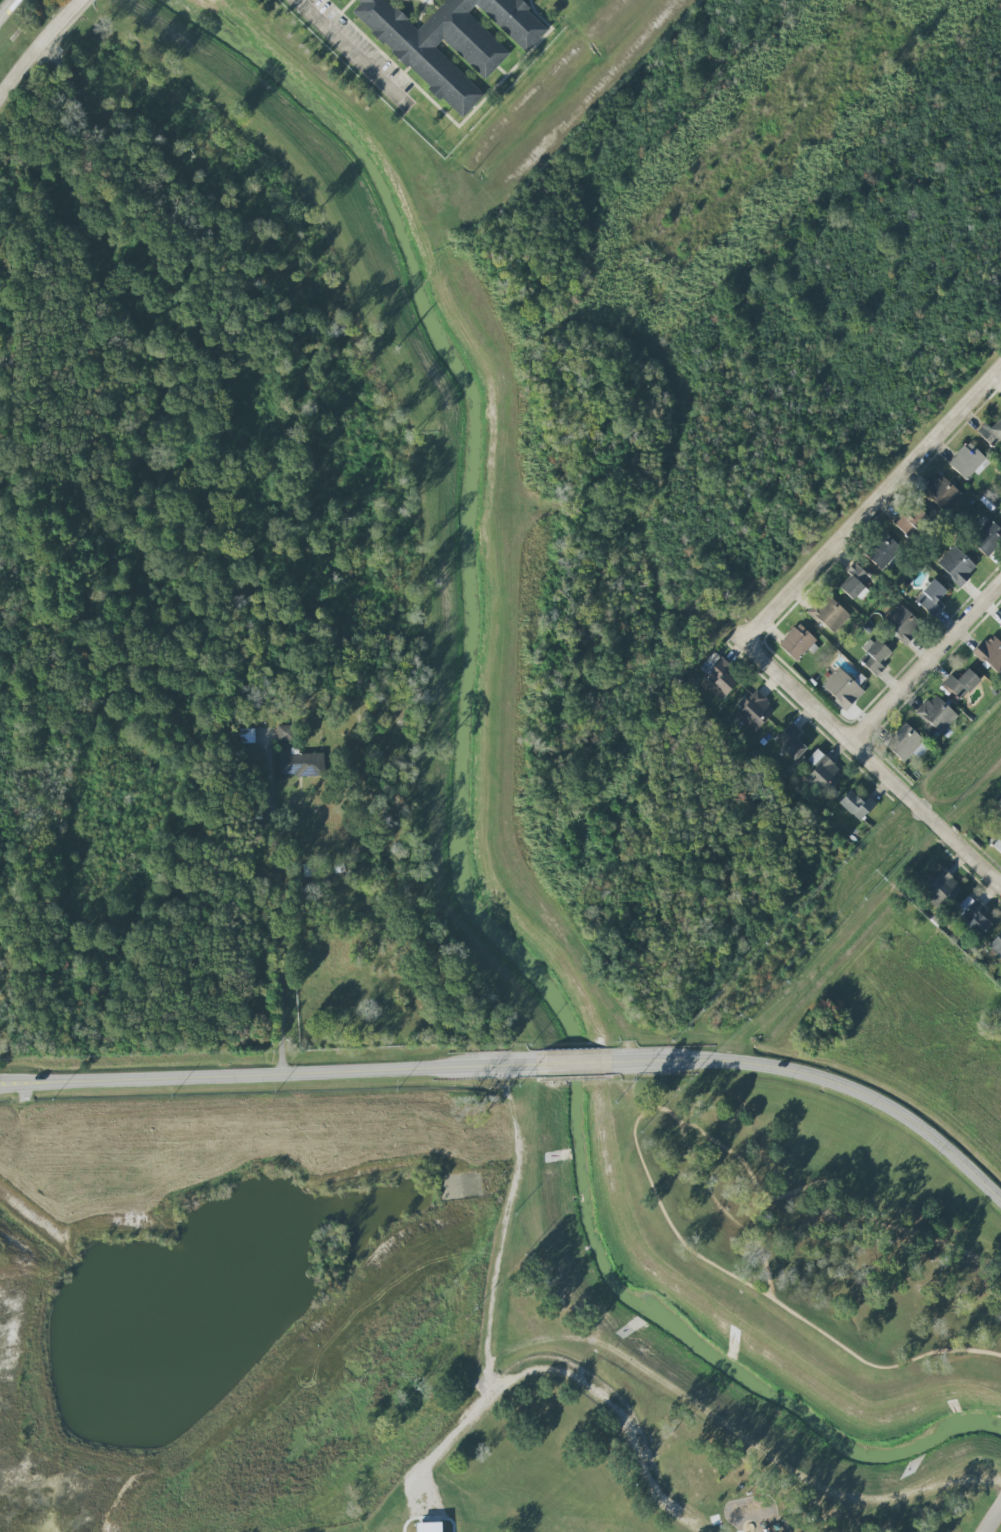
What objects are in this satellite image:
road: (7, 9)
building: (448, 39)
road: (40, 49)
road: (352, 54)
building: (992, 434)
building: (968, 461)
building: (941, 493)
road: (870, 503)
building: (1000, 510)
building: (910, 519)
building: (986, 539)
building: (883, 550)
building: (956, 567)
building: (856, 582)
building: (930, 597)
building: (829, 613)
building: (1000, 624)
building: (901, 625)
building: (797, 642)
building: (989, 654)
building: (874, 659)
road: (924, 662)
building: (721, 680)
building: (960, 684)
building: (841, 690)
building: (755, 712)
building: (935, 715)
building: (285, 733)
building: (247, 735)
building: (791, 742)
building: (906, 745)
road: (871, 763)
building: (300, 764)
building: (822, 773)
building: (857, 805)
building: (996, 840)
building: (942, 890)
road: (275, 905)
building: (972, 915)
building: (996, 945)
road: (575, 1063)
road: (289, 1075)
road: (826, 1080)
road: (21, 1081)
road: (21, 1084)
road: (622, 1170)
road: (724, 1213)
road: (759, 1215)
road: (503, 1232)
road: (581, 1372)
park: (614, 1434)
road: (996, 1525)
building: (429, 1527)

